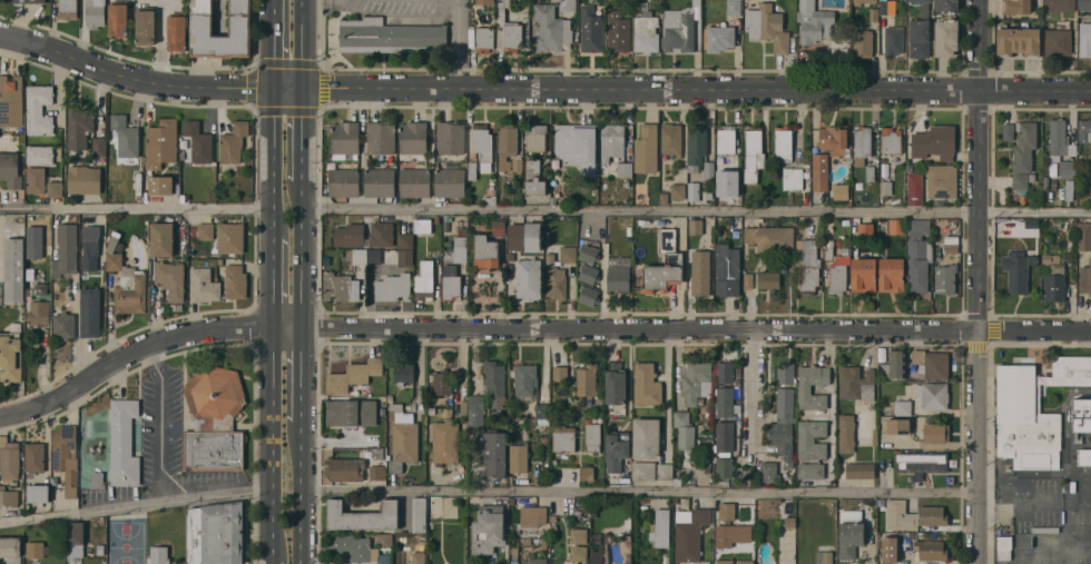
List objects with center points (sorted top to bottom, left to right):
building: (554, 0)
building: (28, 1)
road: (421, 1)
building: (484, 1)
building: (697, 2)
building: (857, 3)
building: (568, 4)
building: (1084, 4)
building: (947, 6)
building: (1016, 6)
building: (1060, 6)
building: (734, 7)
building: (886, 7)
building: (68, 9)
building: (96, 12)
building: (874, 14)
building: (202, 17)
building: (118, 18)
building: (814, 22)
building: (146, 26)
building: (767, 26)
building: (551, 28)
building: (591, 29)
building: (508, 30)
building: (619, 30)
building: (678, 30)
building: (177, 31)
building: (646, 31)
building: (921, 32)
building: (390, 36)
building: (1085, 36)
building: (719, 37)
building: (946, 37)
building: (484, 38)
building: (894, 39)
building: (1019, 40)
road: (303, 42)
building: (863, 42)
building: (1058, 42)
road: (273, 43)
road: (57, 79)
road: (541, 87)
building: (11, 100)
building: (40, 108)
building: (80, 127)
building: (1084, 131)
building: (126, 135)
road: (302, 136)
building: (381, 137)
building: (413, 137)
building: (451, 137)
building: (535, 137)
building: (834, 137)
building: (671, 139)
building: (726, 139)
building: (345, 140)
building: (612, 140)
building: (891, 140)
building: (199, 141)
building: (234, 141)
building: (863, 141)
building: (935, 141)
building: (161, 142)
building: (507, 144)
building: (783, 144)
building: (483, 145)
building: (577, 145)
building: (100, 146)
building: (697, 146)
building: (1060, 147)
building: (647, 148)
building: (1022, 151)
building: (754, 152)
building: (40, 155)
building: (100, 160)
road: (272, 160)
building: (556, 164)
building: (518, 165)
building: (806, 166)
building: (10, 169)
building: (625, 169)
building: (472, 170)
building: (708, 171)
building: (820, 171)
building: (869, 172)
building: (1032, 177)
building: (793, 178)
building: (36, 179)
building: (83, 179)
building: (533, 179)
building: (450, 180)
building: (942, 180)
building: (344, 181)
building: (379, 181)
building: (414, 181)
building: (1045, 181)
building: (218, 182)
building: (626, 182)
building: (727, 182)
building: (161, 184)
building: (885, 188)
building: (56, 189)
building: (491, 189)
building: (915, 189)
building: (1069, 189)
building: (177, 190)
building: (678, 190)
building: (694, 190)
building: (640, 191)
building: (708, 191)
building: (841, 191)
building: (664, 197)
building: (489, 199)
building: (556, 200)
road: (136, 208)
road: (697, 211)
building: (438, 219)
building: (422, 225)
building: (696, 226)
building: (894, 226)
building: (367, 227)
building: (498, 227)
building: (862, 228)
building: (1002, 229)
building: (204, 230)
building: (461, 230)
building: (46, 235)
building: (348, 235)
building: (524, 236)
building: (1084, 236)
building: (230, 237)
building: (163, 238)
building: (770, 238)
building: (405, 240)
building: (193, 244)
building: (952, 244)
road: (979, 245)
building: (90, 247)
building: (66, 250)
building: (485, 251)
building: (589, 253)
building: (828, 253)
road: (302, 254)
building: (918, 254)
building: (374, 255)
building: (843, 255)
building: (360, 256)
building: (405, 256)
building: (461, 256)
building: (510, 256)
building: (1051, 258)
building: (674, 259)
building: (1034, 260)
building: (808, 265)
building: (13, 269)
building: (559, 270)
building: (727, 270)
building: (700, 273)
building: (589, 274)
building: (864, 274)
building: (1018, 274)
building: (892, 275)
building: (171, 278)
building: (529, 278)
building: (618, 278)
building: (838, 278)
building: (945, 278)
building: (1085, 278)
road: (272, 279)
building: (768, 279)
building: (126, 280)
building: (236, 280)
building: (424, 280)
building: (748, 280)
building: (1054, 283)
building: (451, 284)
building: (204, 285)
building: (340, 287)
building: (393, 287)
building: (588, 295)
building: (90, 310)
building: (38, 313)
building: (63, 325)
road: (535, 325)
building: (11, 353)
road: (155, 362)
road: (419, 363)
building: (931, 364)
building: (896, 365)
road: (460, 366)
building: (1071, 369)
building: (738, 370)
building: (403, 372)
building: (725, 372)
building: (785, 372)
building: (353, 374)
building: (579, 376)
road: (301, 379)
building: (1043, 379)
building: (696, 380)
building: (443, 382)
building: (615, 382)
building: (737, 382)
building: (527, 383)
building: (856, 383)
building: (647, 384)
building: (494, 385)
road: (666, 386)
road: (754, 386)
building: (805, 388)
building: (934, 396)
building: (390, 397)
building: (726, 403)
building: (463, 407)
building: (903, 407)
building: (104, 412)
building: (351, 412)
building: (476, 412)
building: (1082, 414)
building: (214, 419)
building: (1025, 419)
building: (898, 425)
building: (684, 429)
building: (936, 432)
building: (846, 433)
building: (592, 435)
building: (725, 435)
building: (780, 435)
building: (875, 435)
road: (271, 437)
building: (403, 437)
building: (563, 437)
building: (646, 437)
road: (161, 438)
building: (547, 441)
building: (124, 442)
building: (445, 442)
building: (812, 448)
building: (617, 449)
building: (492, 451)
building: (35, 456)
building: (66, 456)
building: (1084, 456)
building: (387, 457)
building: (9, 458)
building: (519, 458)
building: (921, 463)
building: (724, 466)
building: (344, 468)
building: (861, 469)
building: (544, 471)
building: (643, 471)
building: (665, 471)
building: (377, 472)
building: (586, 473)
building: (97, 479)
building: (677, 482)
building: (720, 482)
road: (639, 492)
building: (38, 493)
building: (8, 496)
road: (299, 499)
building: (511, 501)
road: (135, 504)
road: (1013, 506)
building: (726, 511)
building: (420, 514)
building: (363, 515)
building: (533, 515)
building: (900, 515)
building: (933, 515)
building: (552, 517)
building: (789, 521)
building: (593, 523)
building: (626, 523)
building: (552, 526)
building: (661, 526)
building: (879, 527)
road: (977, 527)
building: (489, 528)
building: (851, 532)
building: (216, 533)
building: (690, 533)
building: (731, 534)
building: (913, 534)
building: (73, 538)
building: (385, 540)
building: (597, 540)
building: (889, 540)
building: (528, 541)
building: (537, 541)
building: (543, 541)
building: (1004, 542)
building: (577, 544)
building: (879, 544)
building: (353, 546)
building: (11, 548)
building: (931, 548)
building: (35, 550)
building: (159, 554)
building: (514, 555)
building: (886, 556)
road: (269, 557)
building: (419, 557)
building: (597, 557)
building: (825, 557)
building: (472, 561)
building: (537, 561)
building: (726, 562)
building: (746, 562)

